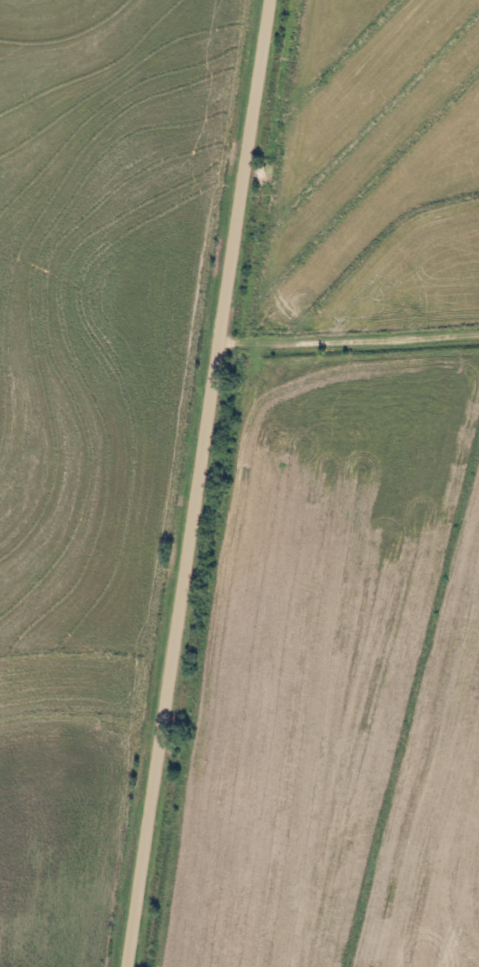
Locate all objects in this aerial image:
road: (202, 484)

